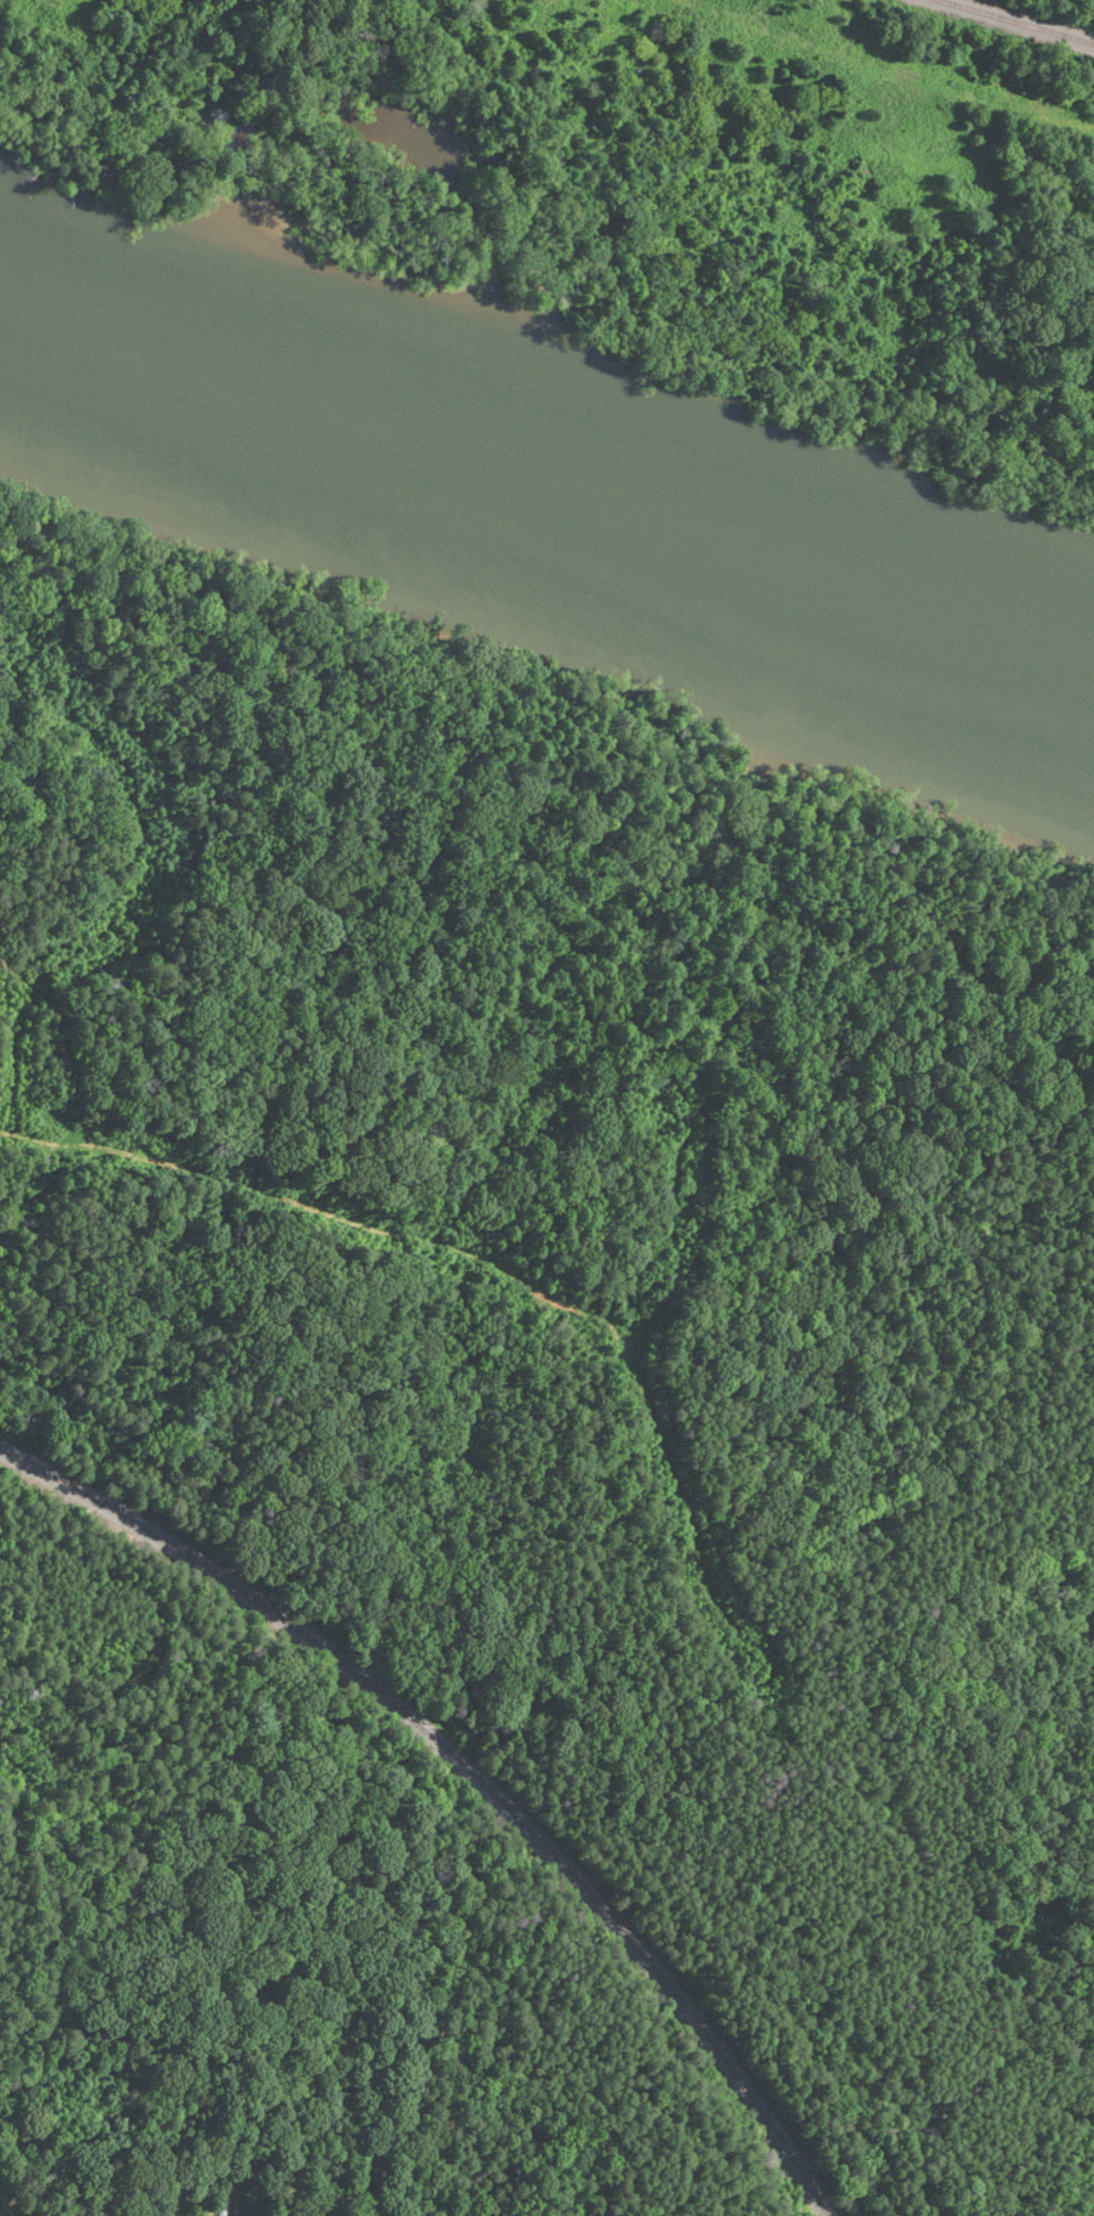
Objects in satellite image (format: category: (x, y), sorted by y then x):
railway: (1020, 20)
river: (549, 433)
railway: (465, 1778)
building: (20, 2140)
building: (226, 2198)

